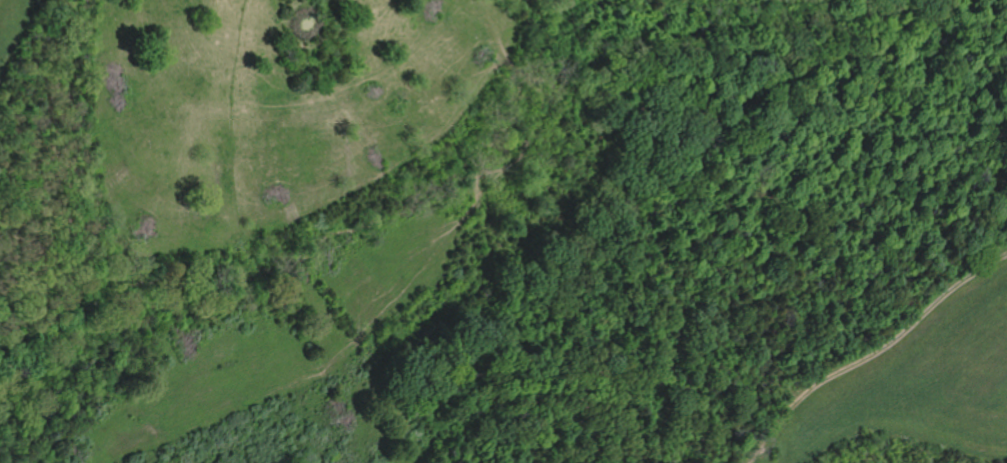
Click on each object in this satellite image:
road: (871, 355)

